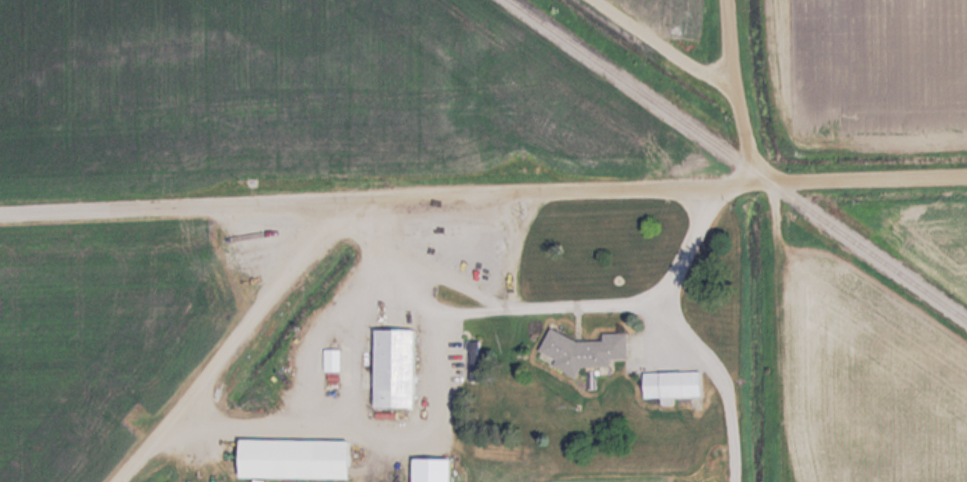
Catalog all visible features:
road: (670, 48)
road: (738, 92)
railway: (739, 160)
road: (483, 196)
road: (678, 332)
road: (225, 342)
building: (589, 353)
building: (336, 361)
building: (402, 370)
building: (681, 385)
building: (305, 461)
building: (439, 471)

